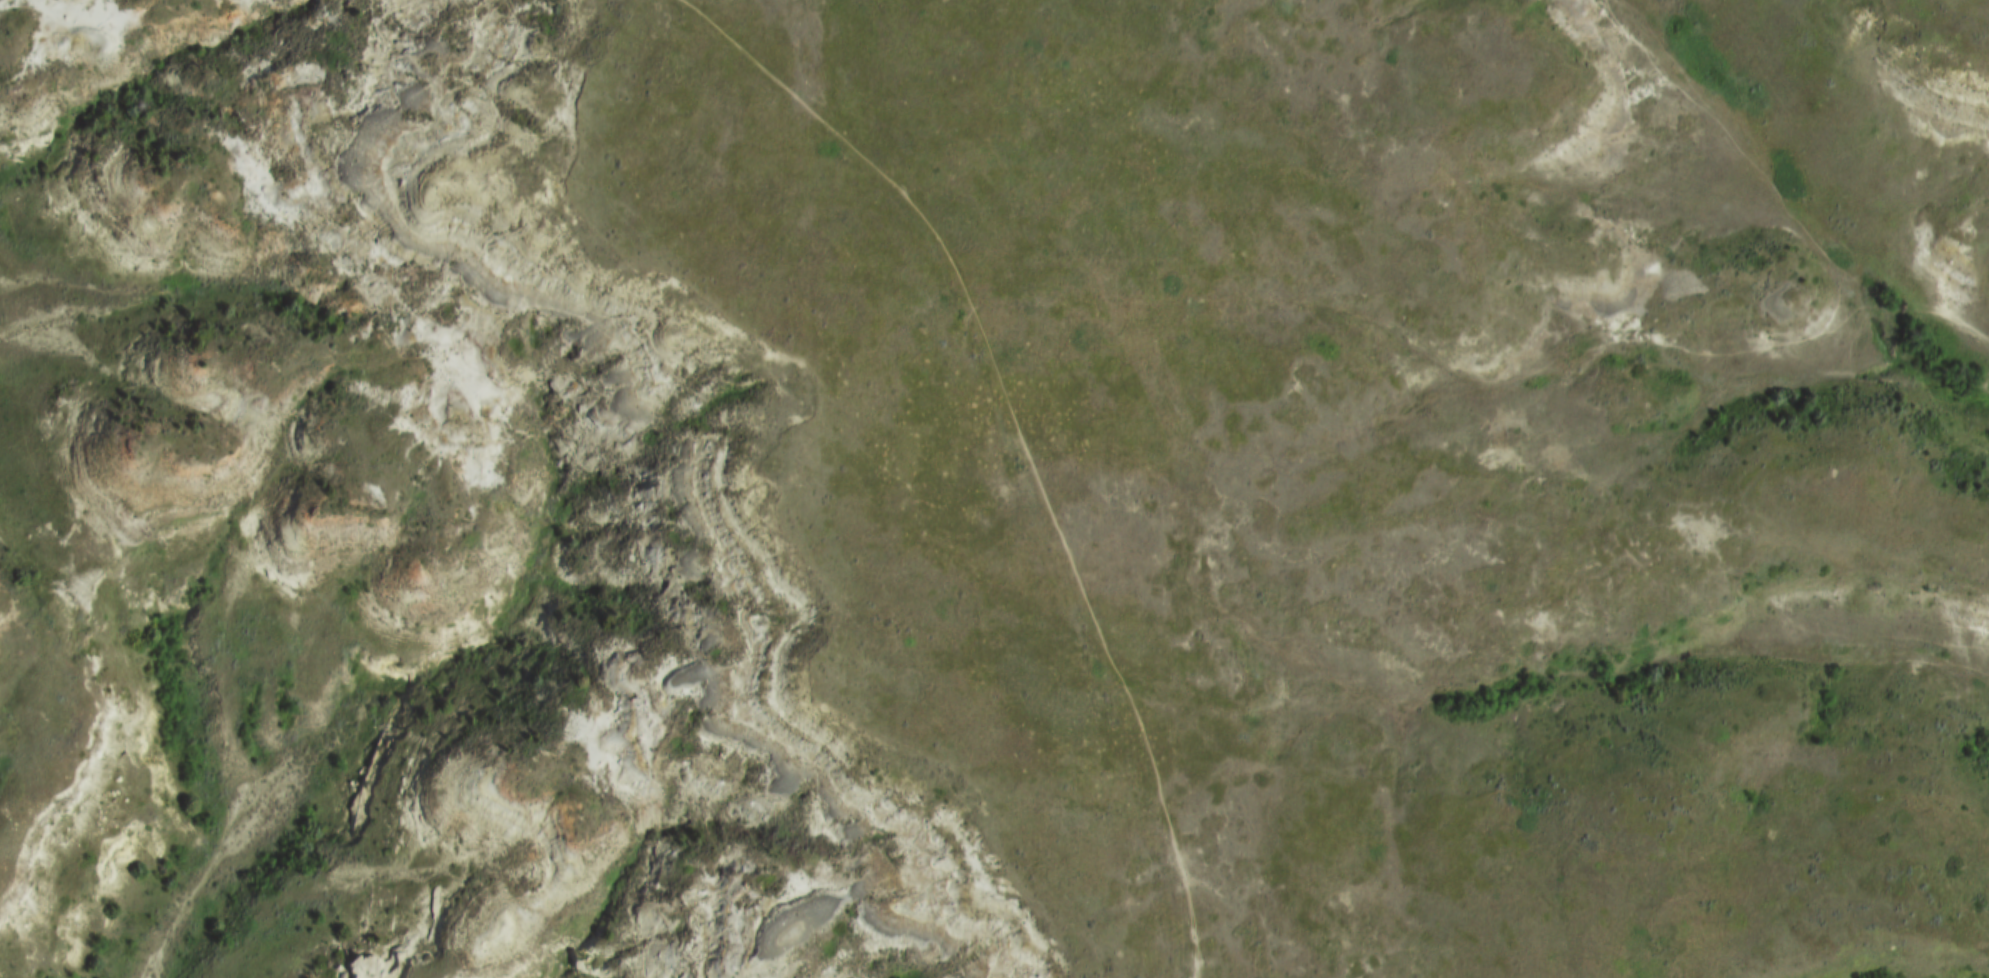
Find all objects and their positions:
road: (1, 0)
road: (1020, 439)

